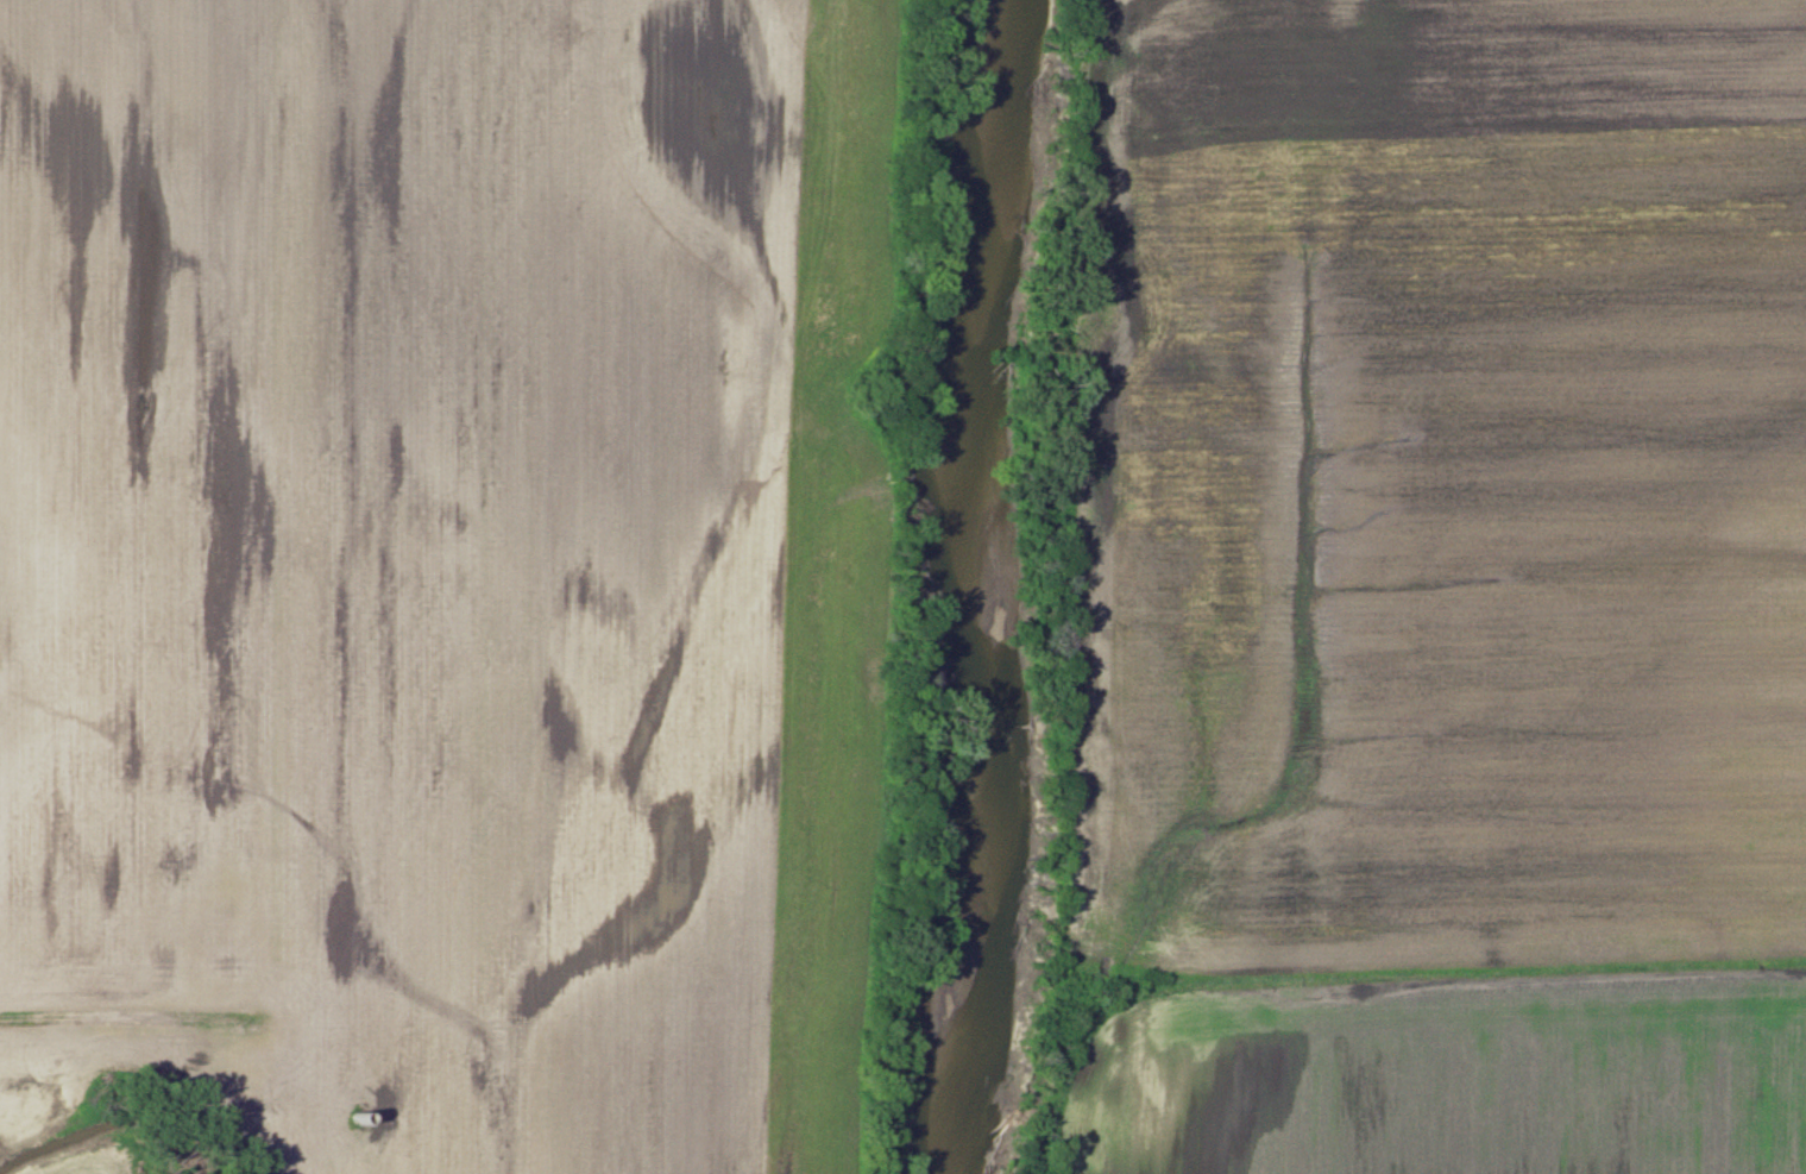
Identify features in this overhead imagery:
road: (76, 1032)

